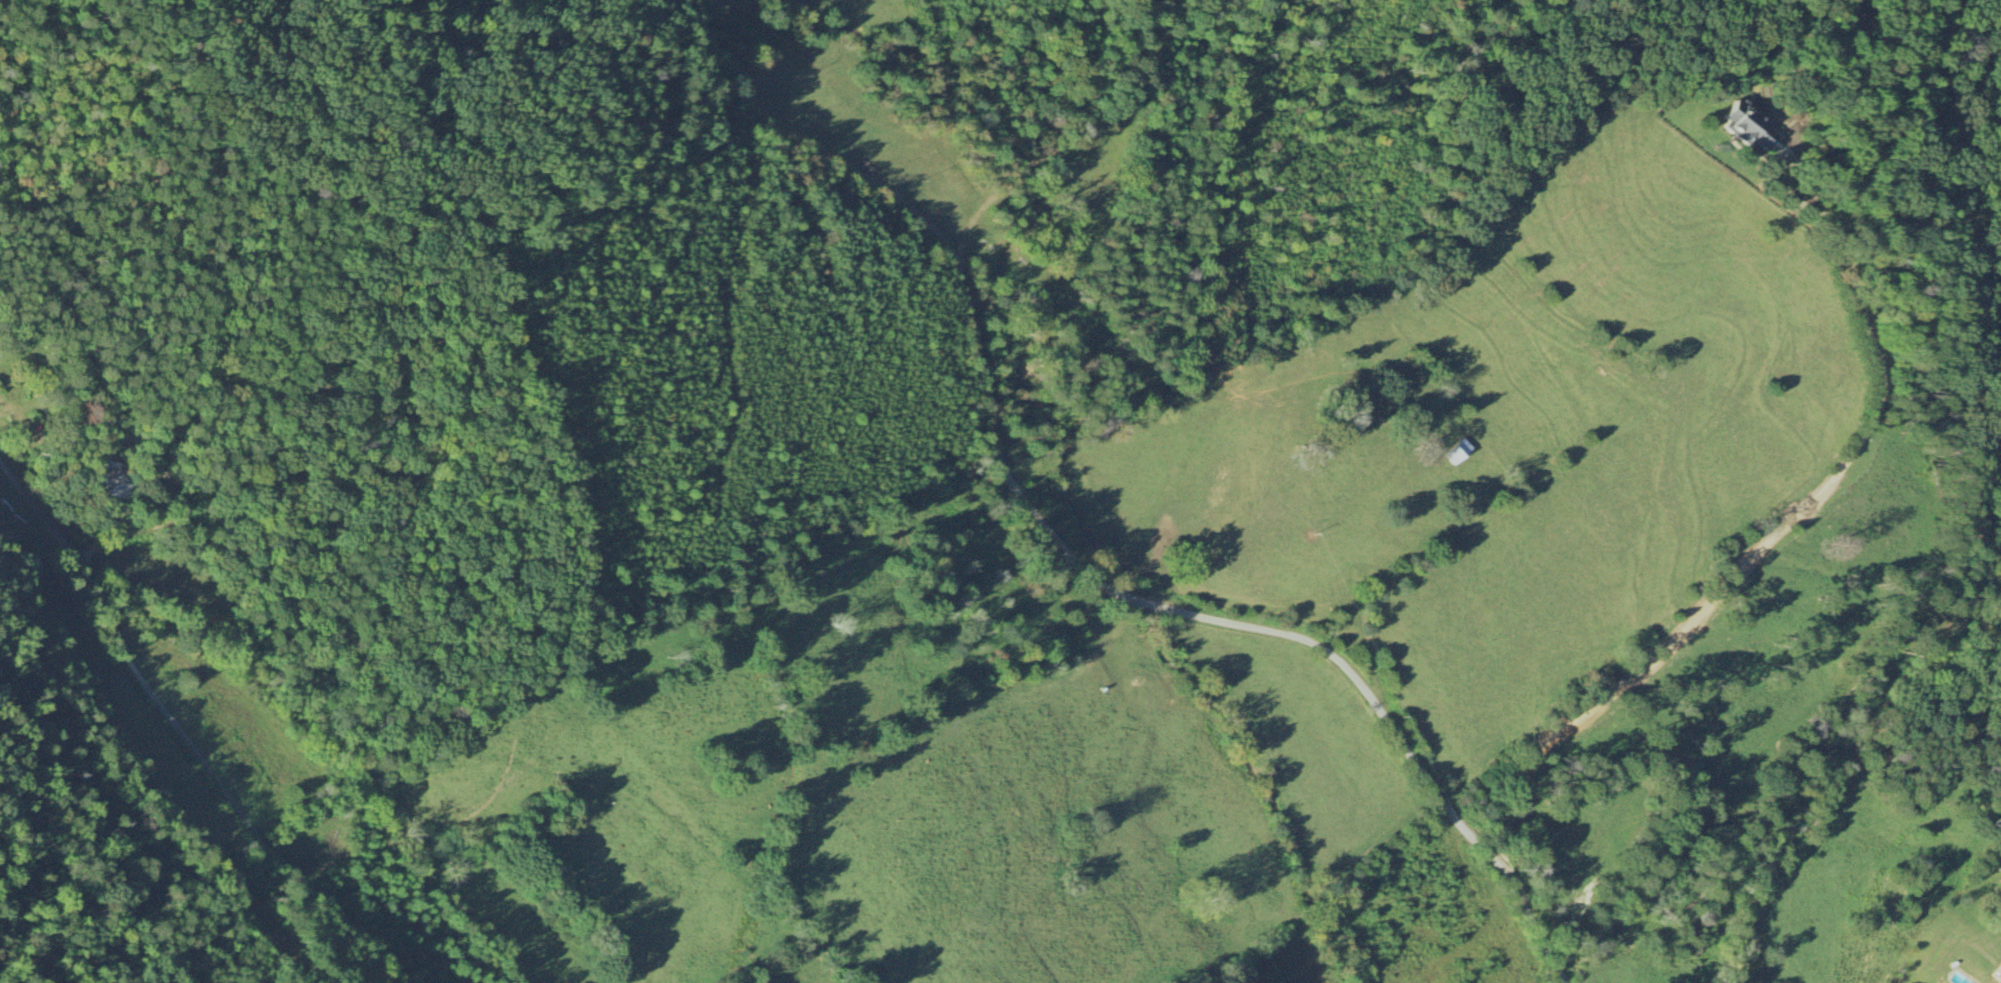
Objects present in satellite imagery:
road: (1096, 85)
building: (1749, 127)
road: (1054, 172)
road: (989, 421)
building: (1456, 452)
building: (108, 480)
road: (18, 490)
road: (155, 524)
road: (1767, 540)
road: (1425, 548)
road: (204, 765)
building: (1999, 974)

